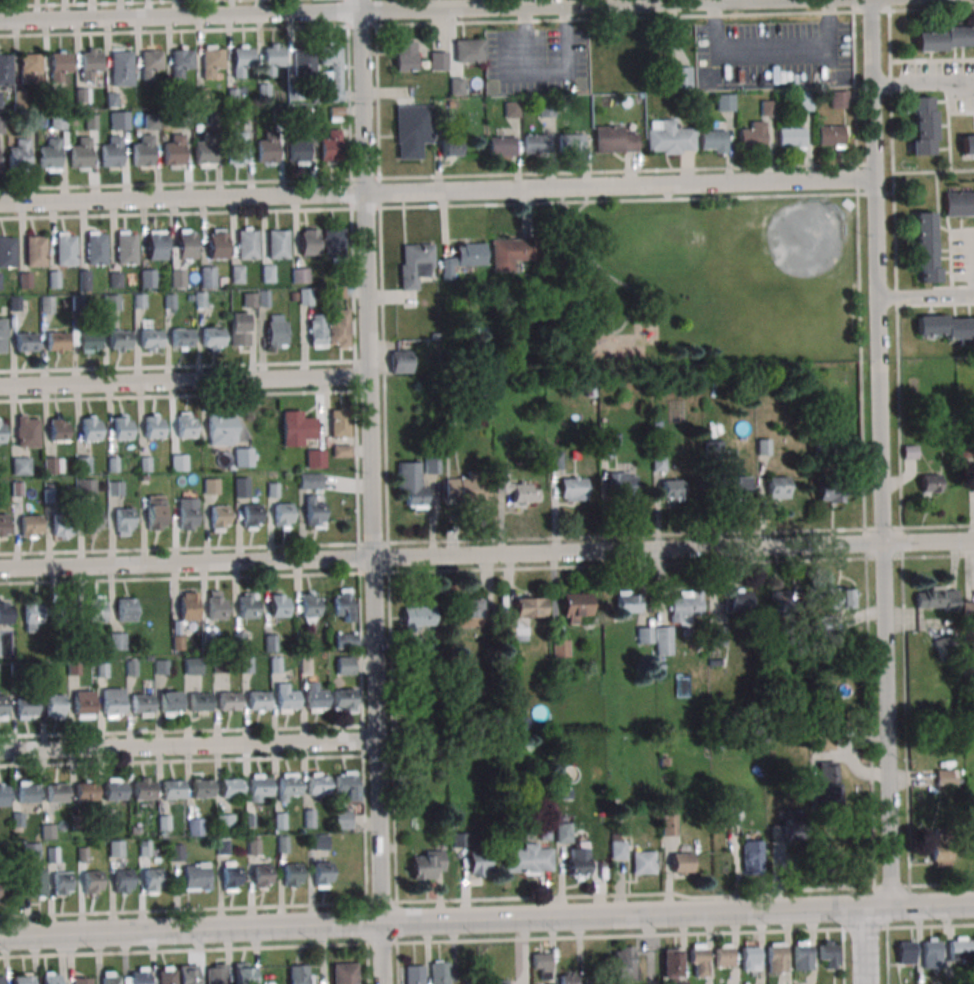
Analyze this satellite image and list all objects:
road: (117, 3)
road: (367, 10)
road: (444, 23)
building: (945, 39)
building: (469, 50)
building: (405, 56)
building: (438, 60)
building: (271, 61)
building: (180, 62)
building: (211, 62)
building: (241, 62)
building: (303, 62)
building: (150, 64)
building: (89, 65)
building: (59, 67)
building: (31, 68)
building: (5, 69)
building: (121, 69)
building: (334, 70)
building: (681, 77)
building: (456, 85)
road: (923, 86)
building: (264, 91)
building: (0, 97)
building: (839, 99)
building: (802, 100)
building: (724, 102)
building: (767, 108)
building: (511, 109)
building: (336, 113)
building: (116, 120)
building: (58, 121)
building: (91, 122)
building: (922, 125)
building: (412, 129)
building: (752, 134)
building: (831, 135)
building: (668, 137)
building: (791, 138)
building: (614, 139)
building: (712, 141)
building: (536, 143)
building: (570, 143)
building: (967, 145)
building: (501, 146)
building: (330, 147)
building: (450, 147)
building: (297, 148)
building: (267, 149)
building: (205, 150)
building: (235, 150)
building: (173, 151)
building: (142, 152)
building: (111, 153)
building: (80, 154)
building: (18, 155)
building: (49, 155)
road: (857, 179)
road: (189, 183)
road: (437, 191)
building: (958, 203)
road: (205, 212)
building: (309, 241)
building: (187, 243)
building: (217, 243)
building: (278, 244)
building: (332, 244)
building: (156, 245)
building: (247, 245)
building: (923, 246)
building: (95, 250)
building: (125, 250)
building: (64, 251)
building: (35, 252)
building: (7, 253)
building: (512, 253)
building: (464, 258)
road: (972, 263)
building: (415, 264)
building: (268, 273)
building: (237, 274)
building: (300, 275)
building: (208, 276)
building: (147, 278)
building: (177, 278)
building: (54, 279)
building: (84, 280)
park: (700, 283)
road: (925, 296)
building: (305, 297)
building: (111, 301)
building: (46, 304)
building: (944, 325)
building: (239, 329)
building: (339, 329)
building: (276, 331)
building: (317, 331)
building: (2, 335)
building: (150, 338)
building: (179, 339)
building: (213, 339)
building: (26, 341)
building: (57, 341)
building: (119, 341)
building: (88, 342)
building: (400, 361)
road: (185, 380)
building: (590, 390)
building: (339, 422)
building: (152, 428)
building: (185, 428)
building: (121, 429)
building: (298, 429)
building: (89, 430)
building: (221, 430)
building: (27, 431)
building: (58, 431)
building: (1, 434)
building: (763, 447)
building: (605, 448)
building: (342, 450)
building: (713, 452)
building: (910, 452)
road: (881, 453)
building: (243, 457)
building: (315, 458)
building: (554, 459)
road: (371, 461)
building: (178, 462)
building: (659, 462)
building: (83, 464)
building: (21, 465)
building: (52, 465)
building: (431, 465)
building: (311, 480)
building: (411, 483)
building: (929, 483)
building: (622, 484)
building: (210, 486)
building: (85, 487)
building: (115, 487)
building: (241, 487)
building: (736, 487)
building: (777, 487)
building: (573, 489)
building: (672, 489)
building: (520, 491)
building: (830, 491)
building: (466, 492)
building: (314, 510)
building: (187, 514)
building: (250, 516)
building: (281, 516)
building: (218, 517)
building: (156, 519)
building: (92, 521)
building: (124, 521)
building: (3, 526)
building: (30, 526)
road: (937, 526)
building: (62, 529)
road: (486, 553)
road: (938, 556)
building: (839, 598)
building: (936, 598)
building: (782, 600)
building: (629, 601)
building: (738, 601)
building: (309, 605)
building: (342, 605)
building: (185, 606)
building: (277, 606)
building: (684, 607)
building: (215, 608)
building: (247, 608)
building: (577, 608)
building: (95, 609)
building: (126, 609)
building: (466, 612)
building: (968, 612)
building: (32, 613)
building: (4, 615)
building: (418, 615)
building: (524, 617)
building: (645, 635)
building: (345, 640)
building: (663, 640)
building: (117, 641)
building: (345, 665)
building: (192, 666)
building: (342, 699)
building: (315, 700)
building: (257, 701)
building: (286, 701)
building: (113, 702)
building: (227, 702)
building: (84, 703)
building: (200, 703)
building: (171, 704)
building: (142, 705)
building: (26, 707)
building: (2, 708)
building: (54, 708)
building: (825, 742)
road: (188, 745)
building: (947, 777)
building: (826, 783)
building: (317, 786)
building: (344, 786)
building: (259, 788)
building: (288, 788)
building: (230, 789)
building: (172, 790)
building: (201, 790)
building: (143, 791)
building: (114, 792)
building: (85, 793)
building: (4, 795)
building: (27, 795)
building: (56, 795)
building: (342, 819)
building: (224, 821)
building: (669, 825)
building: (195, 827)
building: (781, 831)
building: (563, 832)
building: (317, 842)
building: (115, 848)
building: (31, 850)
building: (617, 850)
building: (176, 852)
building: (941, 853)
building: (750, 855)
building: (527, 859)
building: (477, 861)
building: (576, 861)
building: (643, 862)
building: (680, 862)
building: (426, 863)
building: (321, 875)
building: (196, 876)
building: (291, 876)
building: (260, 877)
building: (230, 878)
building: (152, 881)
building: (36, 882)
building: (122, 882)
building: (92, 883)
building: (61, 884)
road: (941, 884)
road: (890, 886)
building: (4, 888)
road: (486, 919)
road: (865, 946)
building: (960, 947)
building: (906, 952)
building: (932, 952)
road: (381, 953)
building: (829, 954)
building: (802, 955)
building: (723, 956)
building: (750, 957)
building: (776, 957)
building: (698, 960)
building: (623, 962)
building: (541, 964)
building: (672, 966)
building: (439, 972)
building: (216, 973)
building: (244, 973)
building: (344, 973)
building: (187, 974)
building: (299, 974)
building: (414, 974)
building: (166, 975)
building: (110, 977)
building: (135, 977)
building: (23, 978)
building: (51, 978)
building: (567, 978)
building: (2, 980)
building: (82, 980)
building: (498, 982)

